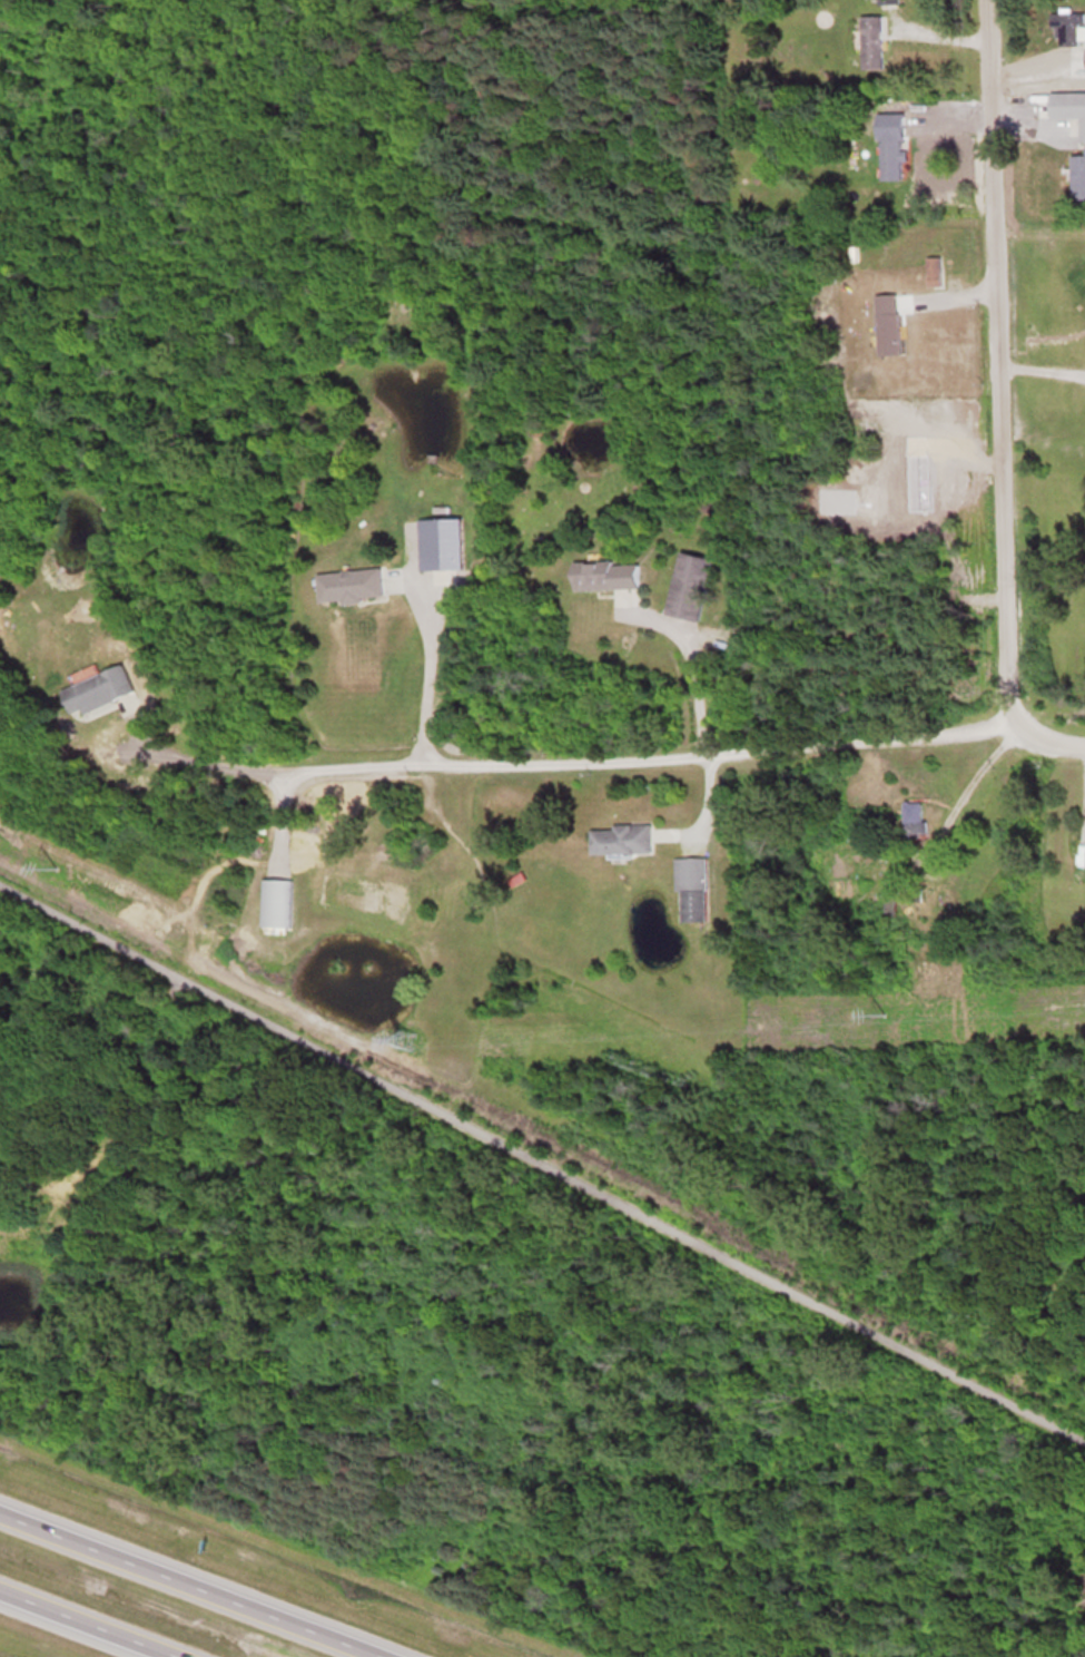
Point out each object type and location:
building: (887, 1)
building: (1068, 28)
building: (870, 41)
building: (1084, 56)
building: (1066, 107)
building: (890, 157)
building: (1077, 175)
building: (915, 277)
road: (994, 360)
building: (867, 406)
building: (438, 542)
building: (605, 575)
building: (348, 585)
building: (689, 586)
road: (673, 666)
road: (404, 675)
building: (95, 689)
road: (1045, 742)
road: (578, 764)
road: (958, 777)
building: (913, 818)
building: (620, 839)
power tower: (56, 869)
building: (690, 889)
building: (272, 902)
power tower: (887, 1013)
power tower: (407, 1038)
road: (542, 1160)
road: (190, 1585)
road: (85, 1625)

